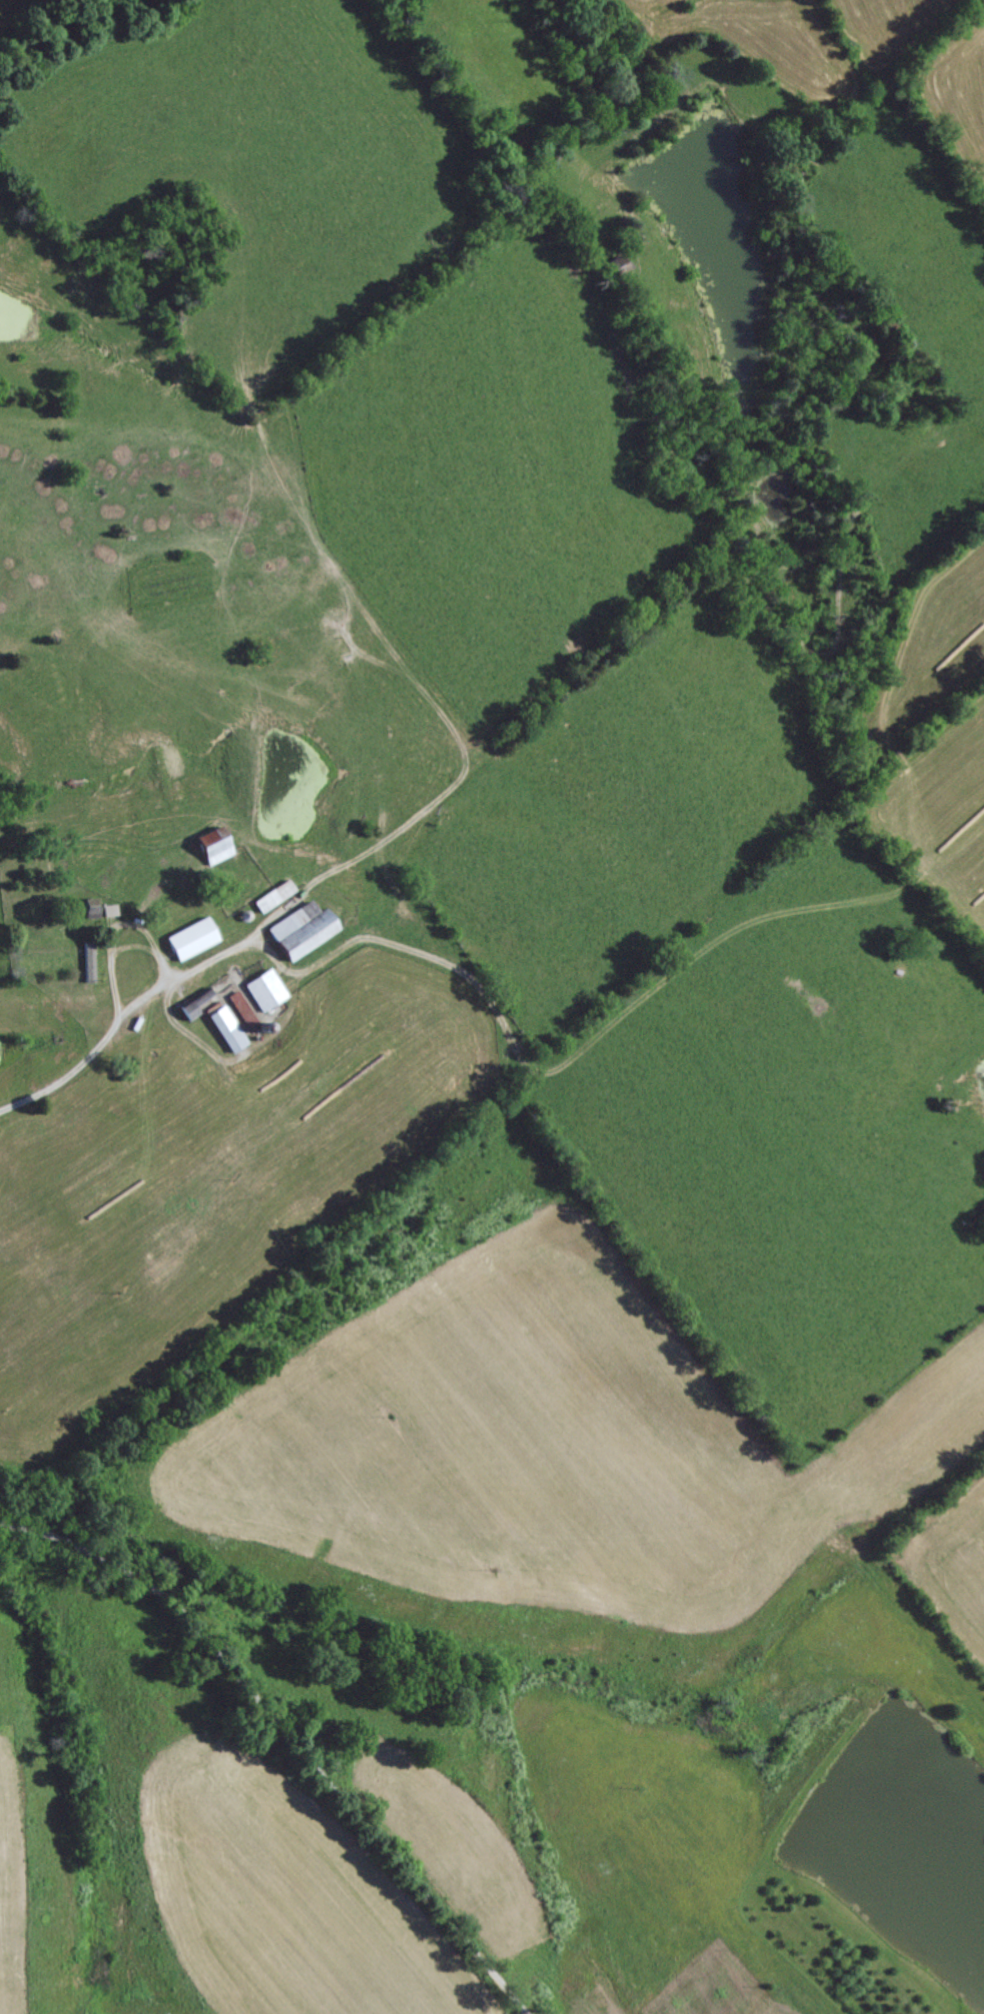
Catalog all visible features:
building: (215, 843)
building: (303, 927)
building: (193, 936)
building: (267, 987)
building: (245, 1008)
building: (229, 1026)
road: (115, 1030)
road: (287, 1734)

